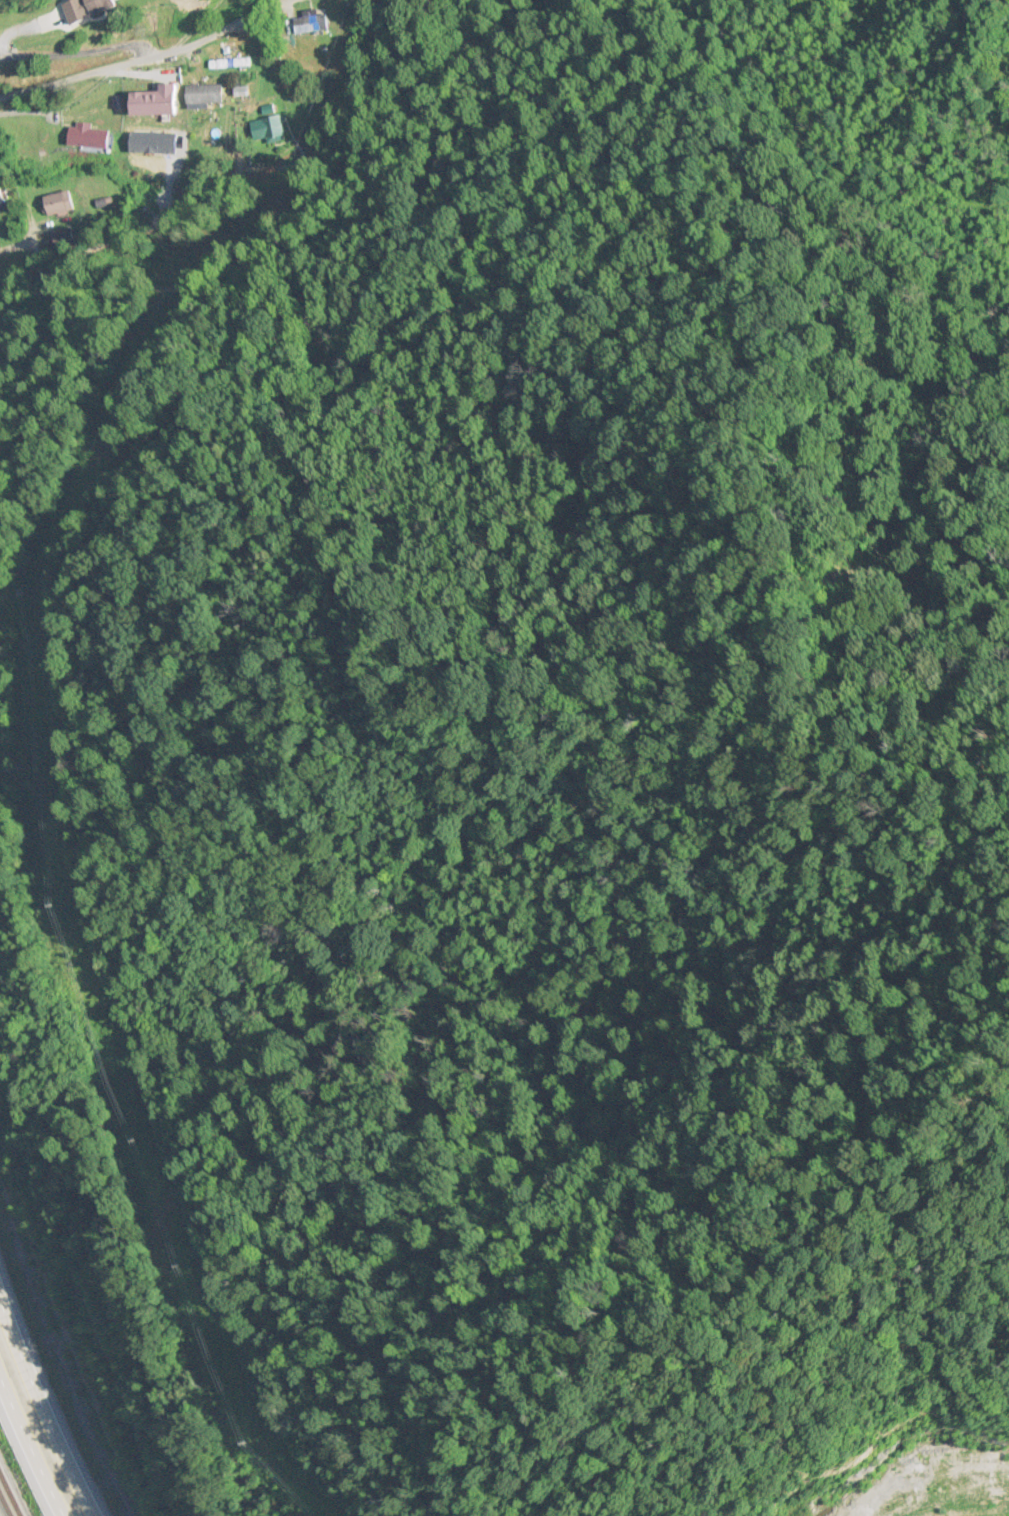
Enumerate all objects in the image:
building: (191, 0)
building: (95, 9)
building: (315, 23)
road: (148, 58)
building: (231, 64)
building: (206, 94)
building: (161, 102)
building: (270, 131)
building: (92, 137)
building: (4, 195)
building: (61, 203)
road: (35, 1425)
road: (21, 1469)
railway: (10, 1494)
railway: (5, 1505)

